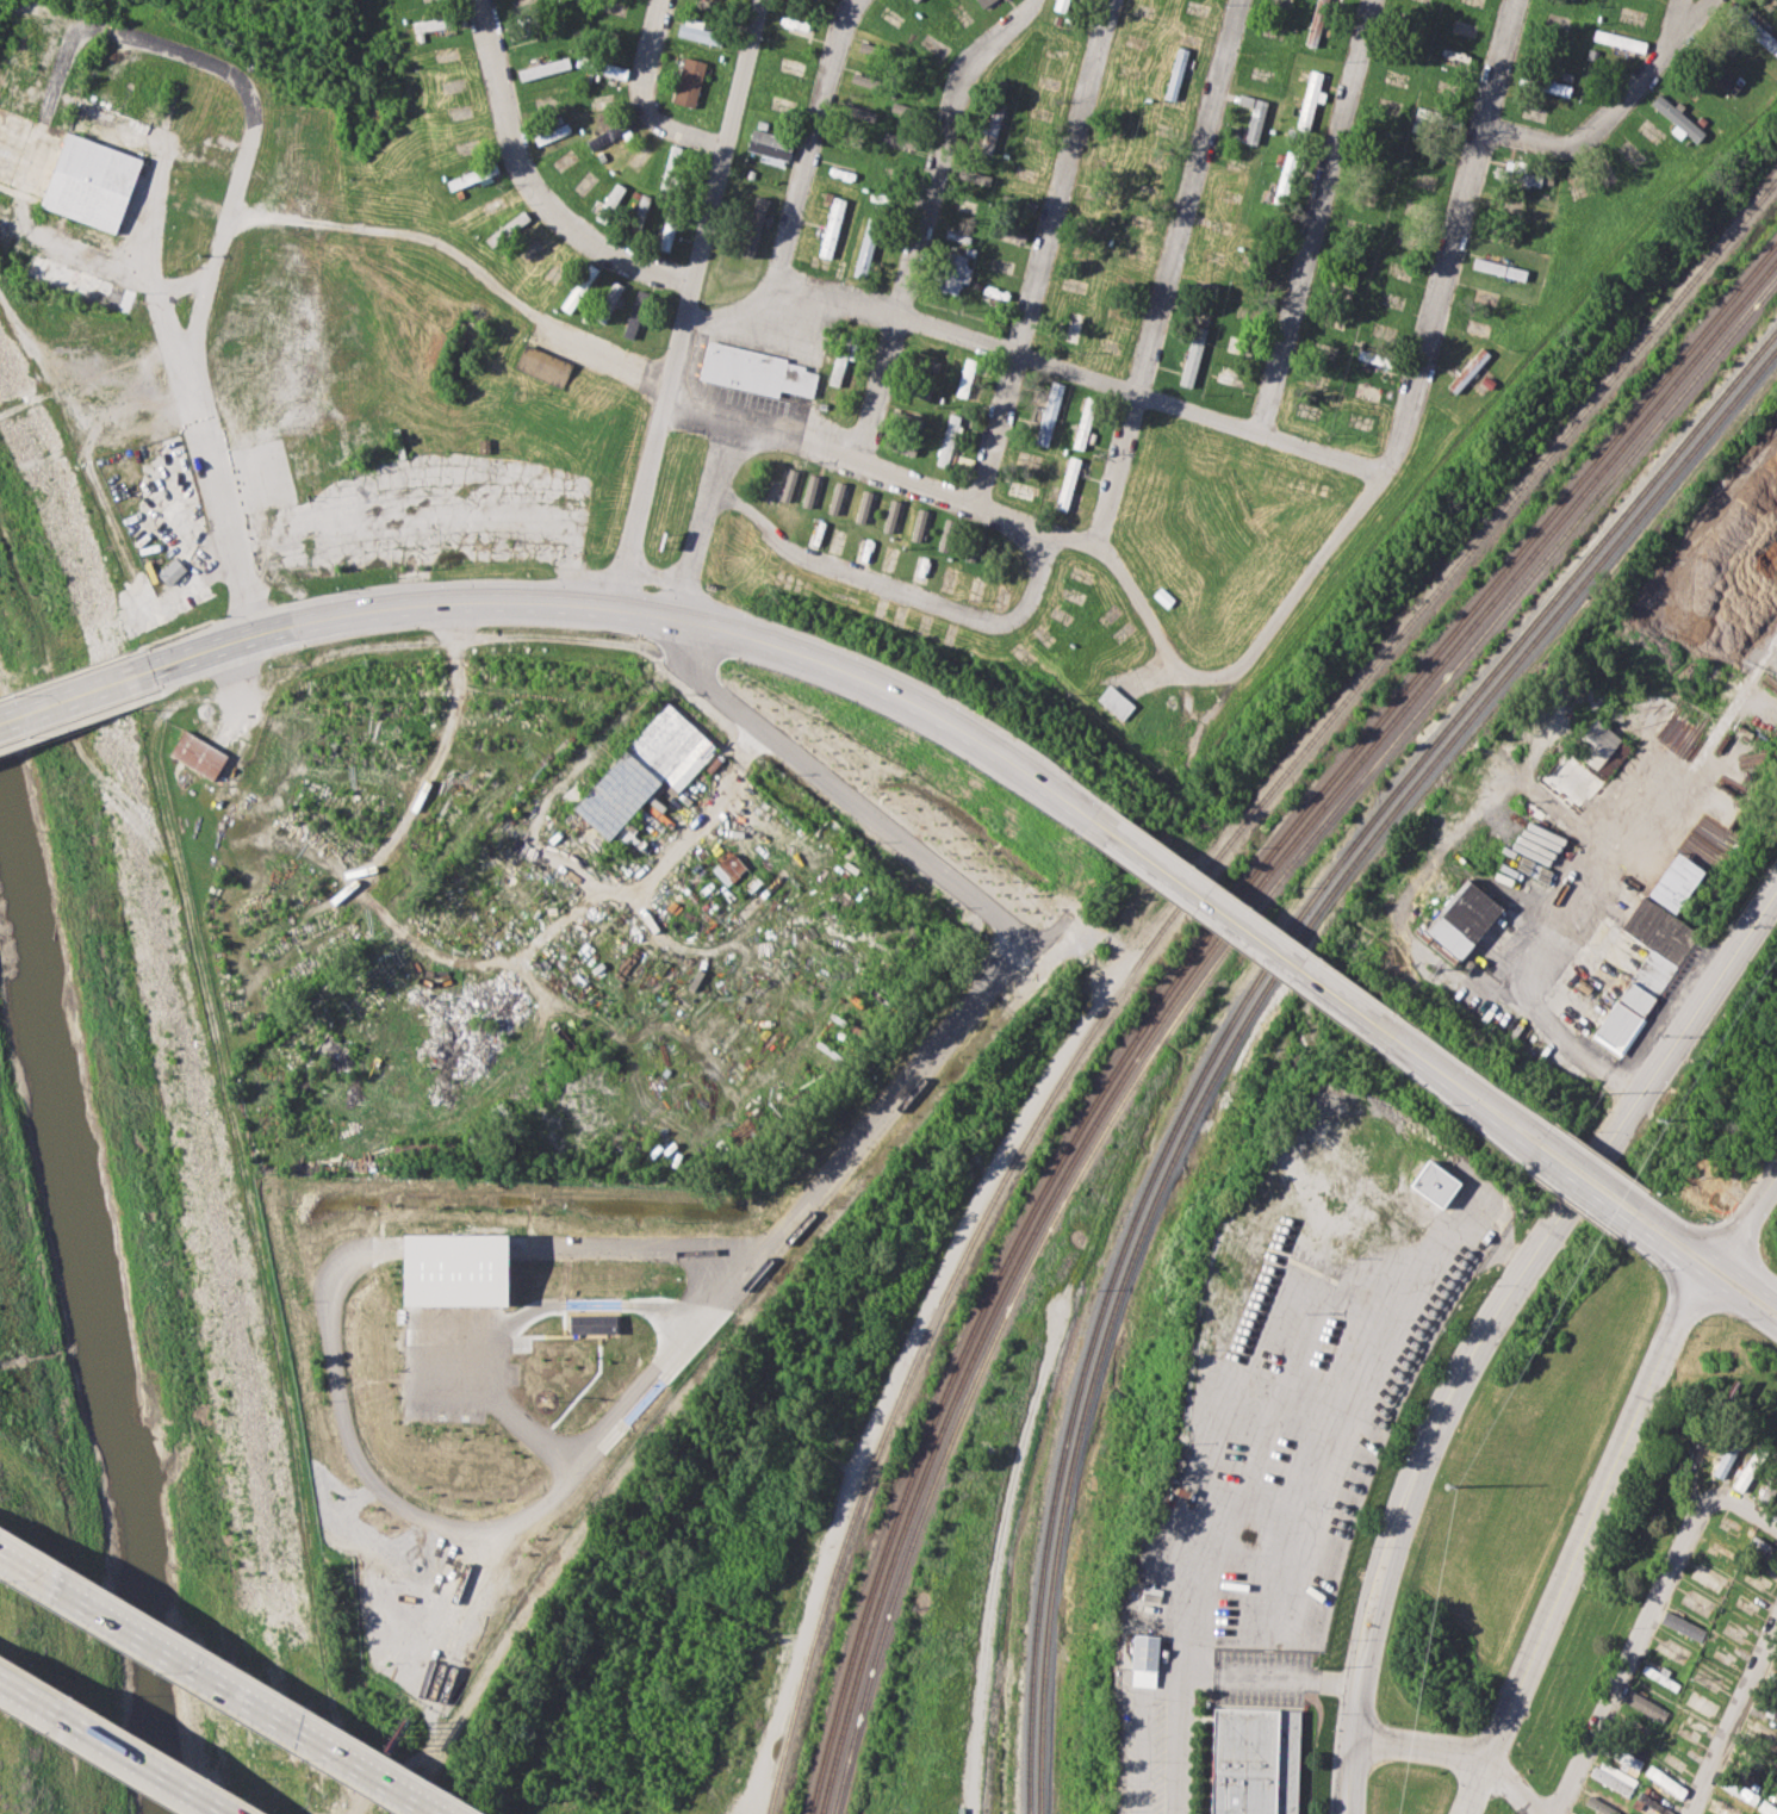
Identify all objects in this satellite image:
building: (914, 0)
building: (983, 2)
building: (1060, 5)
building: (1316, 21)
building: (429, 23)
road: (1670, 26)
building: (696, 31)
building: (1757, 31)
building: (1618, 41)
building: (601, 66)
building: (542, 68)
building: (1175, 73)
building: (1719, 75)
building: (860, 79)
building: (688, 81)
building: (1310, 98)
road: (644, 99)
road: (1615, 108)
building: (860, 112)
building: (1253, 116)
building: (1677, 117)
building: (990, 128)
building: (609, 132)
building: (551, 133)
building: (895, 137)
building: (768, 145)
road: (809, 148)
building: (98, 164)
building: (1518, 174)
road: (532, 185)
road: (714, 192)
building: (609, 201)
building: (638, 212)
road: (1313, 216)
road: (924, 218)
building: (752, 225)
road: (224, 226)
building: (831, 226)
building: (507, 229)
road: (29, 231)
building: (79, 232)
road: (406, 232)
building: (666, 234)
building: (865, 248)
road: (1042, 250)
building: (1498, 268)
road: (1168, 269)
building: (951, 272)
road: (150, 273)
building: (80, 282)
road: (184, 284)
building: (578, 287)
building: (608, 302)
road: (727, 312)
building: (634, 313)
building: (1232, 343)
building: (1192, 355)
building: (1372, 358)
road: (611, 359)
building: (536, 362)
building: (837, 368)
building: (1468, 369)
building: (756, 371)
building: (964, 377)
road: (1088, 377)
road: (703, 402)
road: (1409, 408)
building: (1048, 412)
building: (1083, 422)
building: (946, 440)
building: (901, 447)
road: (915, 480)
building: (1067, 483)
building: (787, 484)
building: (808, 490)
road: (98, 495)
road: (640, 497)
building: (834, 497)
building: (862, 505)
road: (445, 515)
building: (890, 515)
road: (704, 517)
building: (918, 524)
building: (946, 536)
building: (866, 549)
building: (887, 557)
road: (832, 566)
building: (170, 571)
road: (1026, 602)
road: (1139, 603)
road: (630, 611)
road: (237, 684)
building: (1114, 701)
road: (68, 702)
road: (66, 714)
building: (1601, 747)
building: (198, 753)
building: (644, 770)
road: (281, 794)
road: (710, 805)
road: (408, 808)
road: (872, 816)
building: (727, 869)
road: (1595, 874)
building: (1675, 882)
building: (1461, 918)
road: (1231, 919)
railway: (1160, 931)
railway: (1185, 965)
building: (1644, 970)
railway: (1192, 974)
railway: (1198, 983)
railway: (1243, 996)
railway: (1253, 1008)
road: (1439, 1070)
power tower: (1660, 1118)
road: (1524, 1126)
road: (1517, 1136)
road: (235, 1137)
road: (837, 1163)
road: (1593, 1169)
building: (1434, 1184)
road: (1579, 1189)
road: (1746, 1212)
building: (446, 1253)
road: (1710, 1253)
road: (1702, 1278)
river: (92, 1302)
road: (1490, 1321)
road: (905, 1352)
road: (1256, 1443)
building: (1722, 1458)
power tower: (1448, 1486)
road: (1741, 1509)
road: (1595, 1520)
building: (1759, 1547)
road: (990, 1595)
building: (1680, 1626)
road: (1628, 1651)
building: (1143, 1660)
road: (1248, 1679)
road: (223, 1682)
building: (1644, 1704)
road: (1726, 1710)
building: (1771, 1710)
building: (1760, 1737)
road: (113, 1746)
road: (1419, 1750)
road: (1139, 1753)
building: (1628, 1756)
building: (1253, 1760)
building: (1613, 1777)
building: (1664, 1781)
road: (1475, 1788)
road: (1514, 1788)
building: (1736, 1789)
building: (1647, 1804)
building: (1765, 1808)
building: (1719, 1809)

